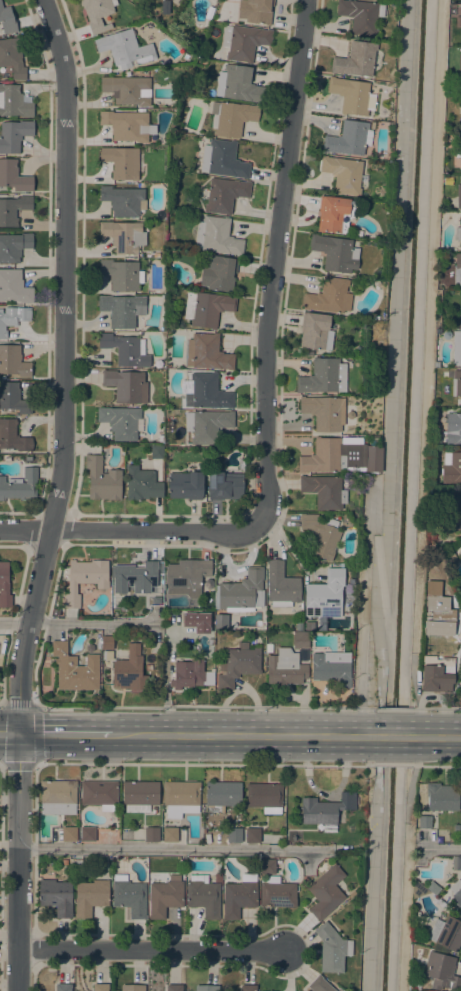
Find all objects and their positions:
building: (256, 11)
building: (97, 13)
building: (361, 16)
building: (6, 20)
building: (458, 22)
building: (244, 42)
building: (124, 49)
building: (12, 57)
building: (356, 60)
building: (459, 69)
building: (237, 84)
building: (127, 90)
building: (352, 96)
building: (13, 102)
building: (460, 109)
building: (231, 117)
building: (128, 125)
building: (13, 135)
building: (349, 138)
building: (458, 150)
building: (222, 160)
building: (121, 162)
building: (343, 174)
building: (14, 177)
building: (225, 195)
building: (458, 196)
building: (123, 201)
building: (13, 209)
building: (334, 214)
building: (458, 233)
building: (124, 236)
building: (217, 236)
building: (14, 247)
building: (335, 253)
building: (156, 255)
road: (273, 263)
building: (457, 270)
building: (121, 274)
building: (219, 274)
building: (14, 287)
building: (329, 296)
building: (207, 308)
building: (122, 310)
building: (12, 318)
building: (459, 321)
road: (427, 327)
building: (316, 331)
building: (437, 332)
building: (456, 348)
building: (126, 349)
building: (305, 352)
building: (207, 353)
building: (13, 361)
building: (436, 364)
building: (323, 377)
building: (456, 384)
building: (126, 386)
building: (207, 393)
building: (13, 398)
building: (323, 412)
building: (120, 422)
building: (206, 427)
building: (453, 428)
building: (13, 437)
building: (436, 439)
building: (156, 452)
building: (324, 457)
building: (373, 459)
building: (140, 462)
building: (451, 468)
building: (102, 480)
building: (142, 484)
building: (19, 486)
building: (186, 486)
building: (224, 486)
building: (324, 491)
road: (57, 495)
building: (454, 512)
road: (131, 530)
building: (321, 536)
building: (460, 553)
building: (451, 558)
building: (161, 568)
building: (134, 577)
building: (187, 577)
building: (84, 579)
building: (4, 586)
building: (281, 586)
building: (241, 593)
building: (325, 595)
building: (156, 600)
road: (386, 603)
road: (362, 606)
building: (166, 617)
road: (78, 621)
building: (221, 621)
building: (197, 622)
building: (300, 640)
building: (107, 643)
building: (269, 648)
road: (3, 664)
building: (238, 665)
building: (149, 667)
building: (285, 668)
building: (75, 669)
building: (331, 669)
building: (130, 670)
building: (437, 674)
building: (190, 675)
building: (460, 680)
road: (416, 695)
road: (359, 705)
road: (1, 706)
road: (100, 707)
road: (321, 708)
road: (367, 708)
road: (393, 709)
road: (436, 709)
road: (10, 734)
traffic signals: (20, 734)
road: (65, 735)
road: (242, 736)
road: (392, 737)
road: (435, 737)
road: (0, 762)
road: (162, 763)
road: (392, 764)
road: (435, 766)
road: (411, 779)
building: (99, 794)
building: (139, 796)
building: (221, 796)
building: (57, 797)
building: (265, 797)
building: (441, 797)
building: (181, 798)
building: (325, 809)
building: (424, 822)
building: (456, 828)
building: (69, 834)
building: (87, 834)
building: (151, 835)
building: (170, 835)
building: (234, 835)
building: (252, 835)
road: (442, 848)
road: (170, 850)
building: (64, 862)
building: (456, 863)
building: (267, 866)
building: (78, 867)
building: (217, 877)
building: (432, 888)
building: (418, 890)
building: (326, 892)
building: (456, 892)
building: (276, 893)
building: (55, 895)
building: (203, 896)
building: (90, 897)
building: (129, 897)
building: (165, 897)
building: (238, 897)
building: (438, 903)
road: (404, 907)
building: (446, 933)
building: (332, 949)
road: (154, 950)
building: (441, 971)
building: (319, 985)
building: (63, 987)
building: (100, 987)
building: (133, 988)
building: (174, 988)
building: (207, 988)
building: (248, 988)
building: (339, 989)

